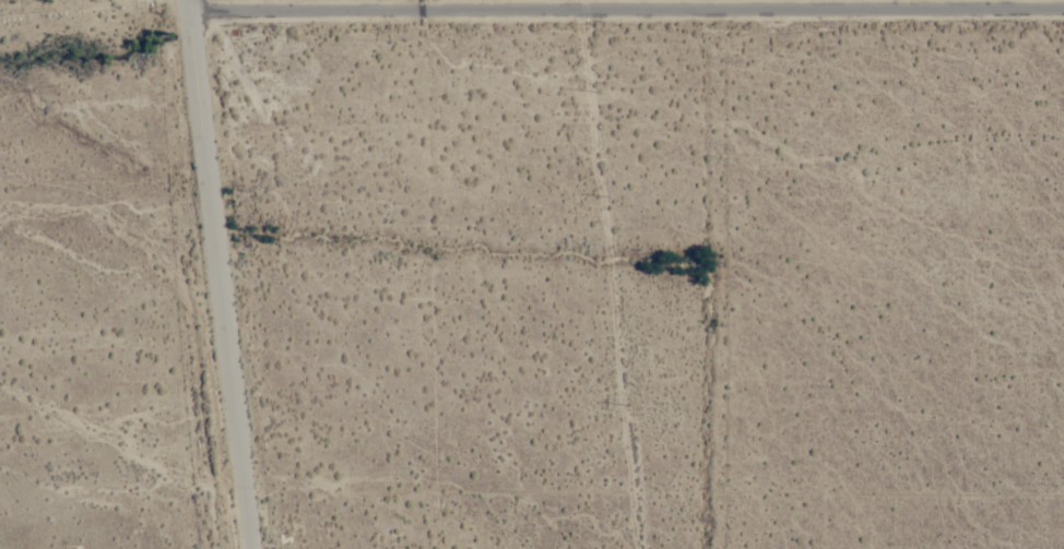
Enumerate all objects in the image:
road: (189, 5)
road: (579, 8)
road: (627, 15)
road: (220, 279)

